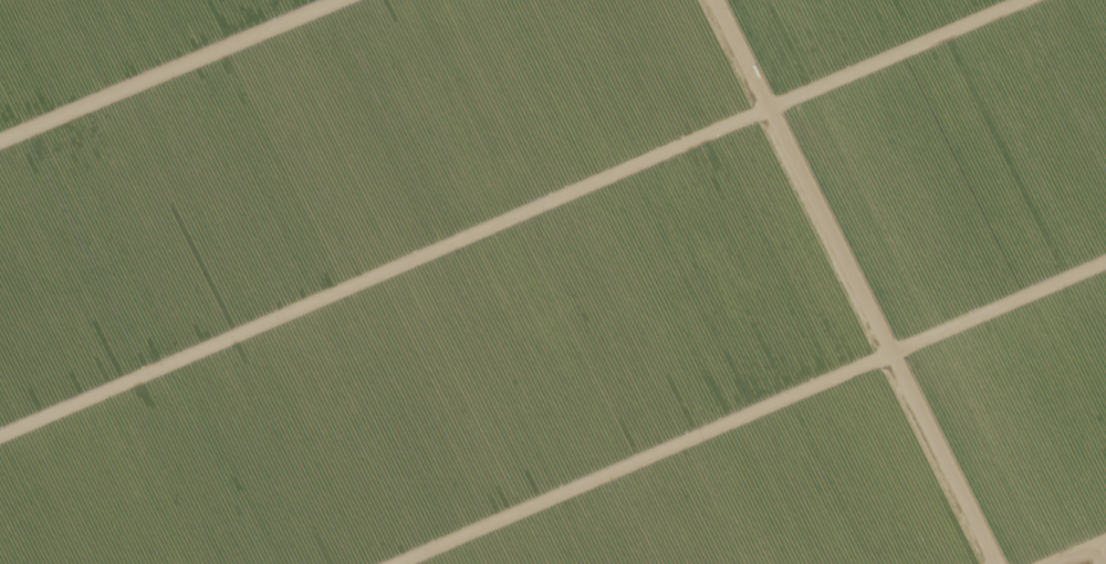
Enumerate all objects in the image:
crop: (107, 44)
crop: (324, 166)
crop: (969, 224)
crop: (451, 382)
crop: (754, 495)
crop: (1085, 561)

